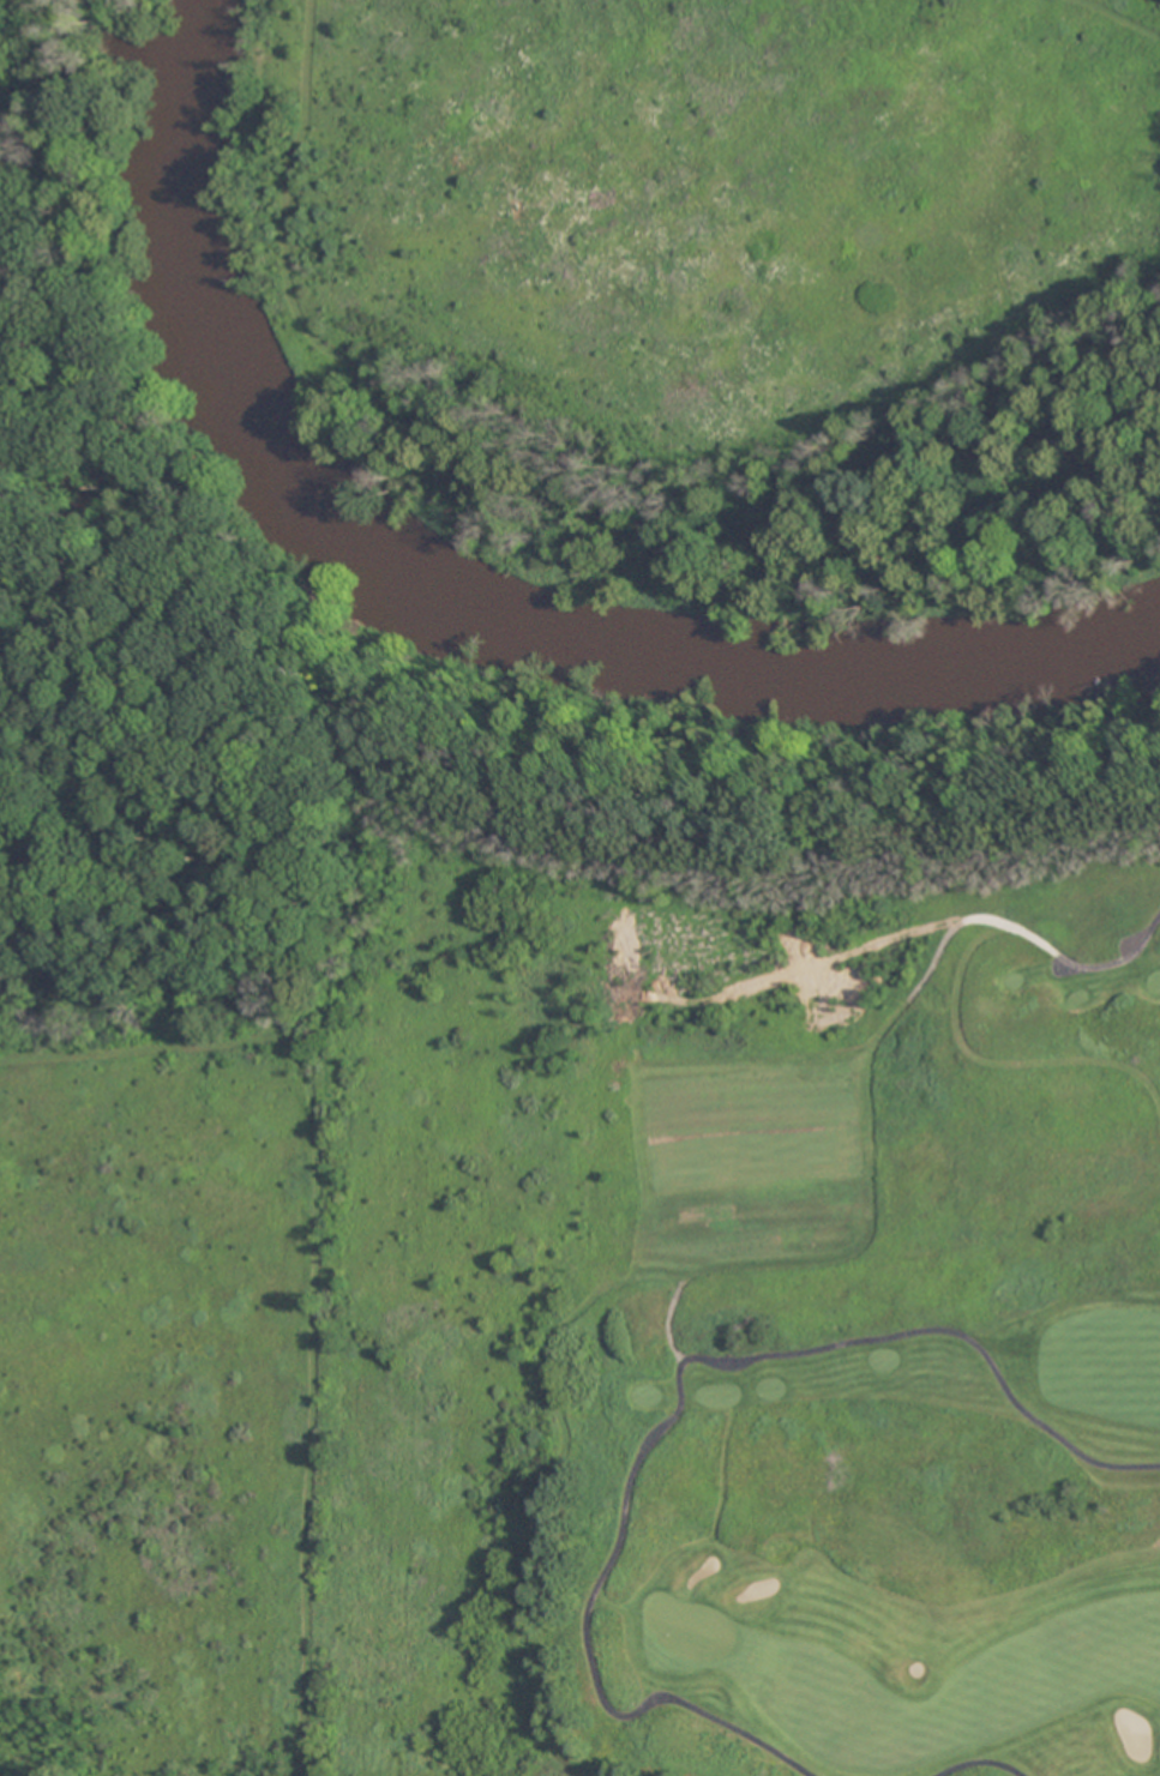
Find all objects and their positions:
river: (469, 603)
park: (740, 1236)
road: (677, 1396)
road: (979, 1759)

